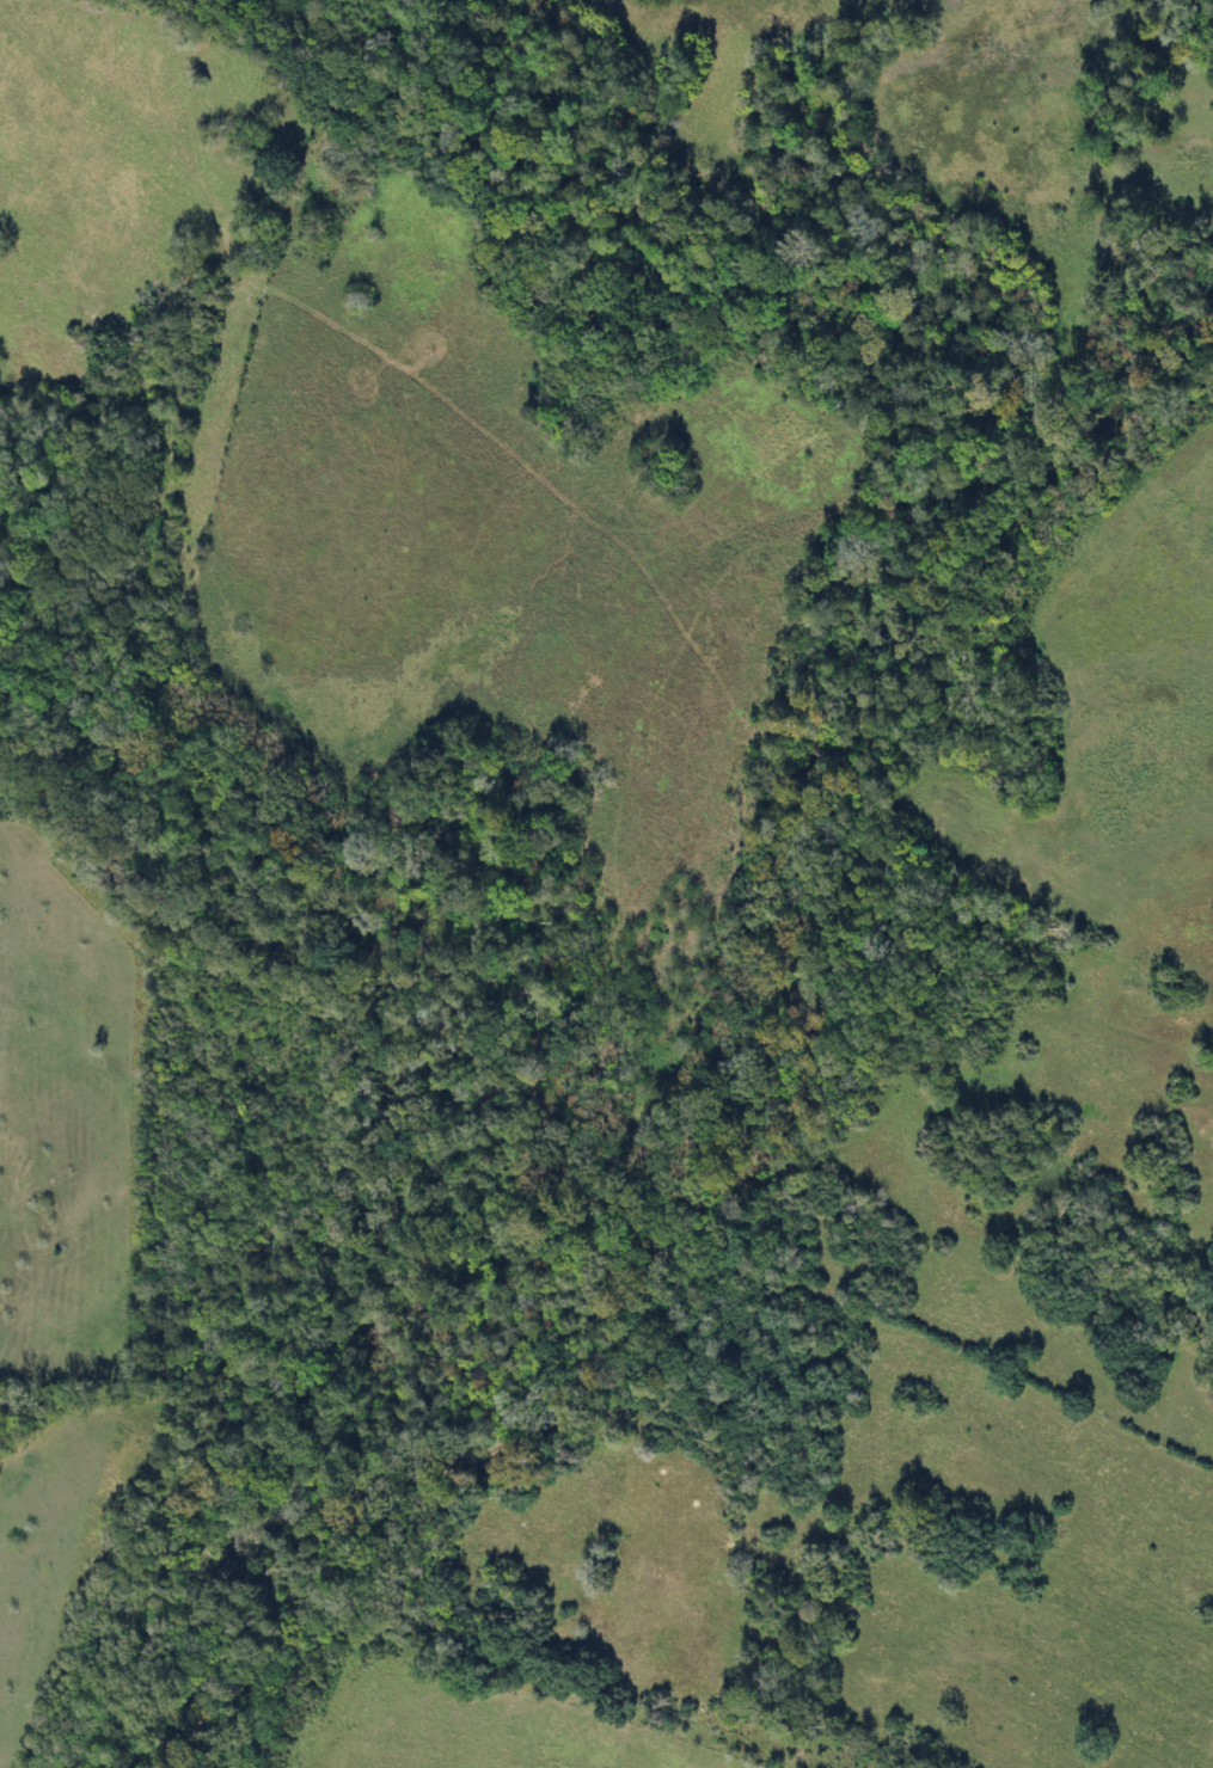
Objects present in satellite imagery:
road: (98, 127)

